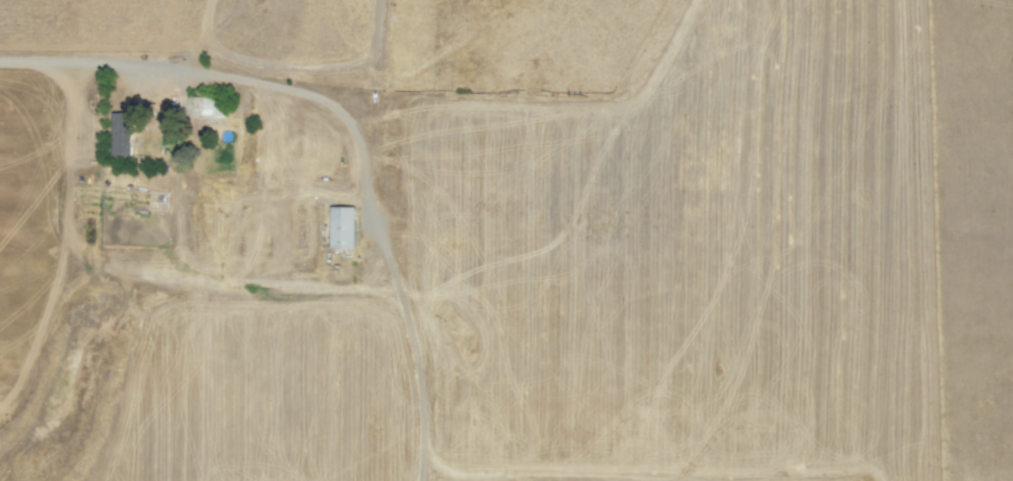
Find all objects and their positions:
road: (82, 61)
building: (207, 106)
building: (120, 133)
building: (342, 227)

